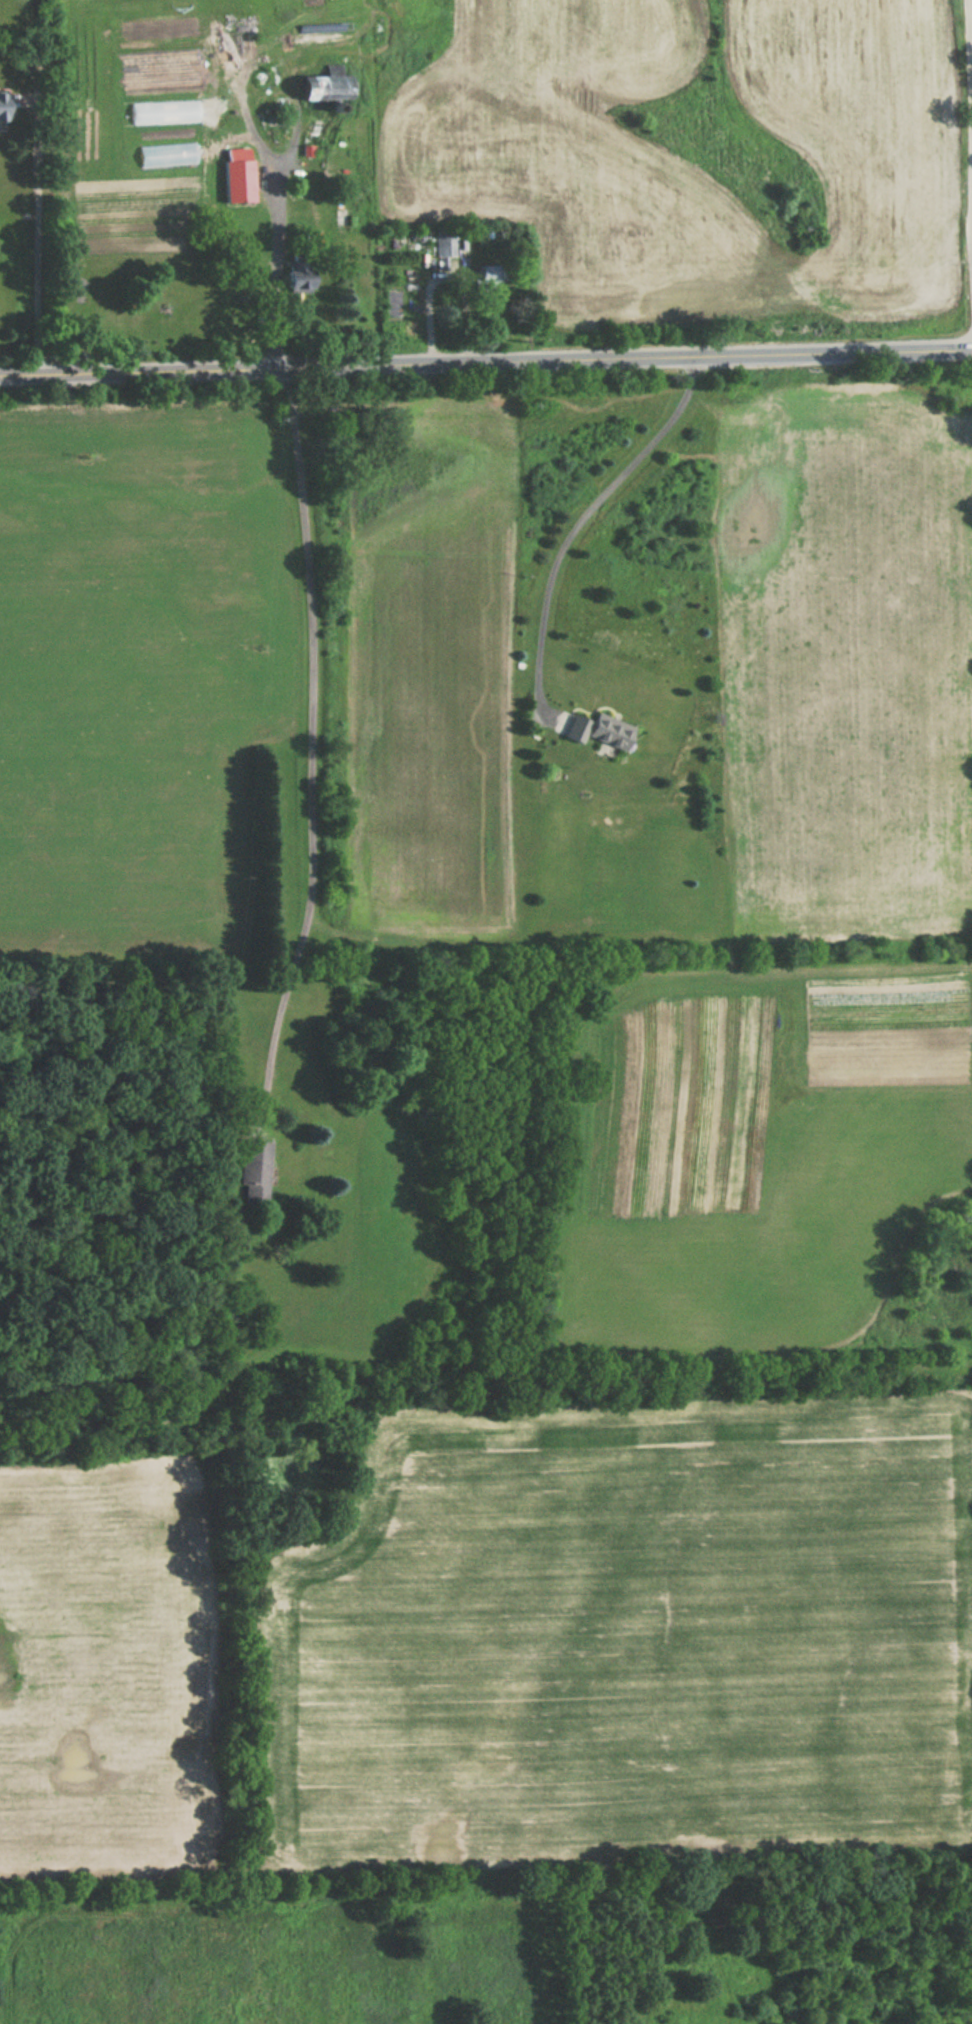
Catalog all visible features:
building: (324, 87)
building: (2, 107)
building: (238, 181)
road: (40, 245)
building: (450, 246)
road: (273, 270)
building: (299, 272)
building: (488, 274)
road: (485, 363)
road: (577, 521)
road: (312, 729)
building: (596, 732)
building: (253, 1173)
crop: (630, 1633)
crop: (105, 1667)
crop: (276, 1964)

